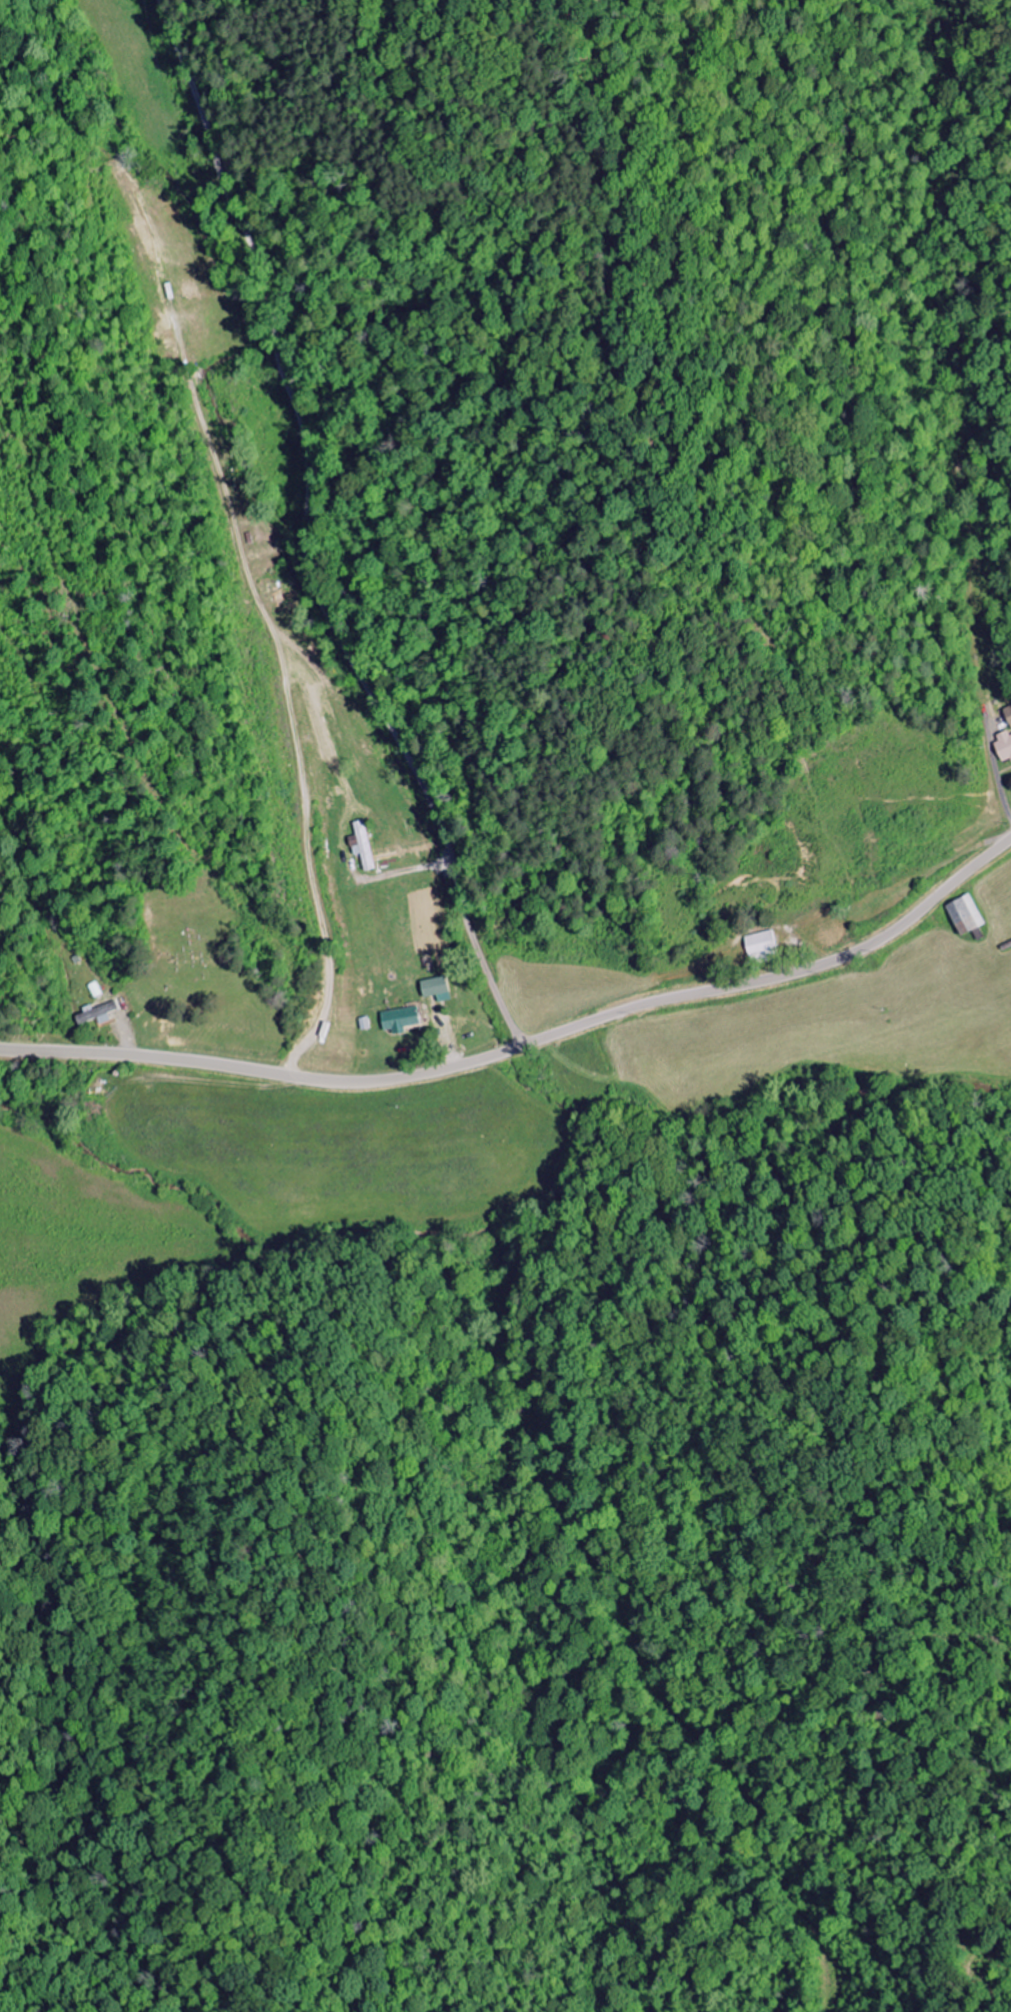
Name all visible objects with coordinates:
road: (309, 535)
building: (1008, 714)
building: (1004, 748)
building: (361, 846)
building: (964, 915)
building: (761, 945)
building: (435, 990)
building: (97, 1014)
building: (399, 1020)
road: (527, 1045)

